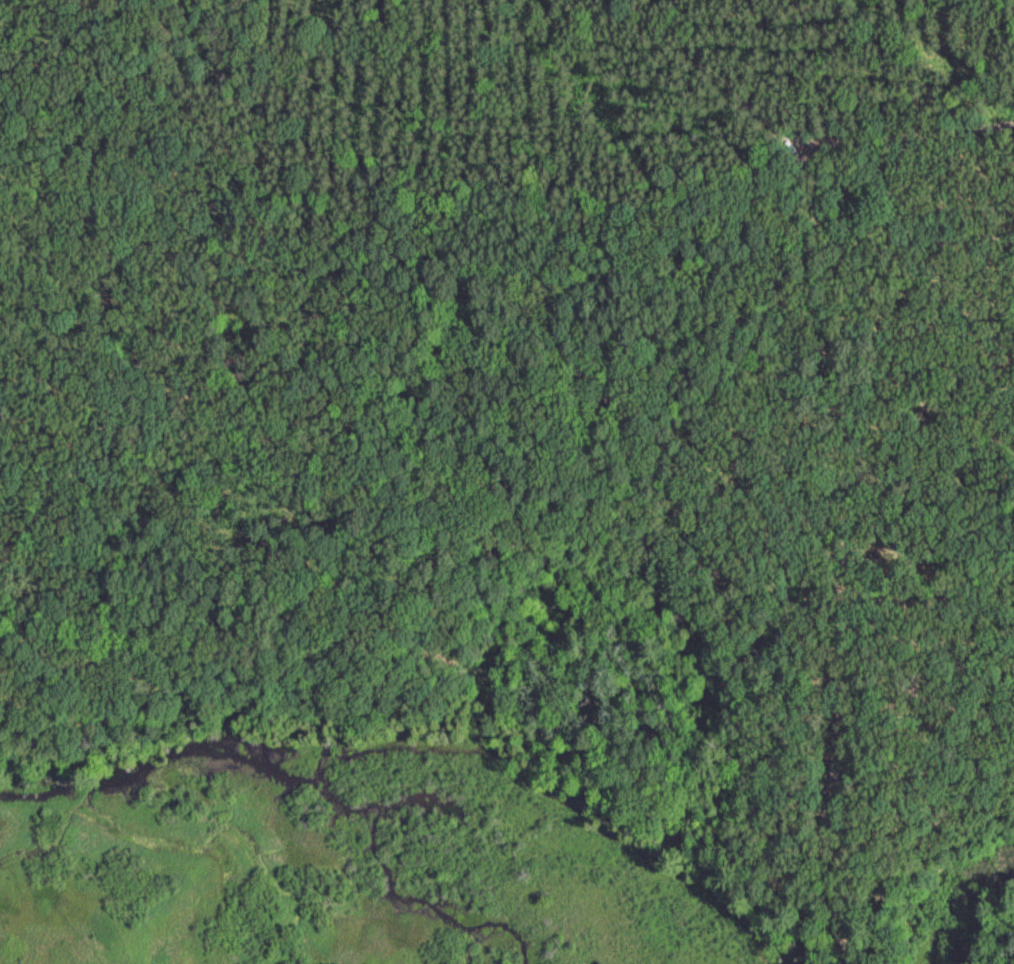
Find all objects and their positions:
road: (724, 54)
road: (914, 111)
road: (867, 258)

